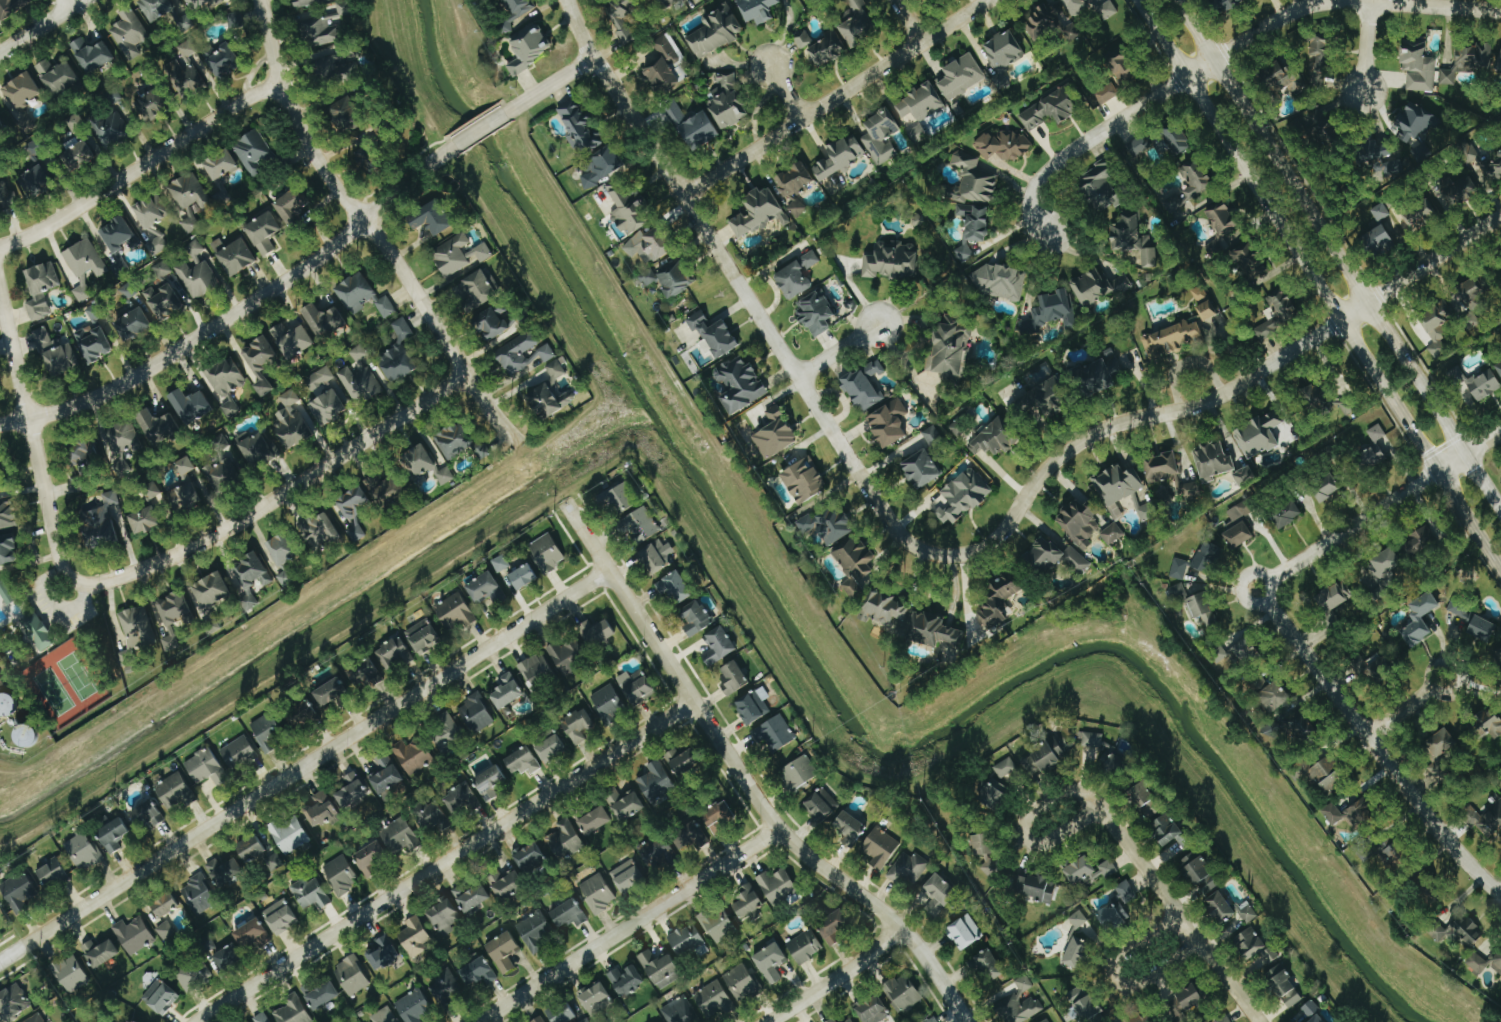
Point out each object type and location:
building: (660, 1)
building: (308, 2)
road: (68, 3)
road: (1351, 3)
building: (200, 5)
building: (1224, 6)
building: (9, 8)
building: (155, 9)
building: (758, 10)
building: (1106, 10)
building: (515, 12)
building: (1053, 17)
building: (235, 20)
building: (622, 20)
road: (908, 22)
building: (185, 23)
building: (857, 23)
road: (40, 26)
road: (1197, 29)
building: (320, 32)
building: (1072, 32)
building: (129, 33)
building: (714, 34)
building: (802, 39)
building: (529, 48)
road: (1367, 48)
building: (188, 49)
building: (828, 49)
building: (1004, 50)
building: (91, 55)
building: (1469, 62)
building: (224, 63)
building: (1418, 66)
building: (1498, 66)
building: (1123, 68)
building: (1303, 70)
building: (336, 71)
building: (57, 77)
building: (960, 77)
building: (186, 80)
road: (548, 86)
building: (22, 91)
road: (781, 91)
building: (1106, 93)
road: (837, 98)
building: (727, 99)
road: (620, 103)
building: (921, 104)
building: (152, 105)
building: (1051, 109)
building: (676, 114)
building: (347, 115)
building: (75, 123)
building: (1414, 123)
building: (1, 128)
road: (479, 129)
building: (580, 129)
building: (111, 130)
building: (699, 132)
building: (916, 132)
road: (1097, 135)
building: (1330, 135)
building: (881, 138)
building: (1177, 141)
building: (1003, 146)
building: (35, 147)
building: (1137, 148)
building: (252, 152)
building: (841, 157)
building: (1384, 159)
building: (367, 161)
building: (1483, 162)
road: (140, 164)
building: (602, 166)
building: (220, 172)
building: (794, 181)
building: (972, 181)
building: (34, 182)
building: (1192, 184)
building: (1099, 185)
building: (1460, 190)
building: (7, 198)
building: (189, 199)
building: (292, 207)
building: (797, 208)
building: (628, 211)
building: (1380, 212)
building: (759, 213)
building: (1420, 217)
building: (431, 219)
building: (917, 220)
building: (152, 222)
building: (975, 223)
building: (1221, 227)
road: (369, 230)
building: (263, 234)
building: (117, 235)
building: (1134, 239)
building: (1378, 239)
building: (651, 245)
building: (195, 250)
building: (964, 254)
building: (458, 255)
building: (234, 256)
building: (890, 260)
building: (1251, 261)
building: (84, 266)
building: (162, 271)
building: (796, 275)
building: (670, 278)
building: (198, 279)
building: (999, 281)
road: (1358, 282)
road: (1320, 285)
building: (1096, 287)
building: (480, 289)
building: (40, 290)
building: (128, 291)
building: (355, 293)
building: (1199, 293)
building: (1466, 295)
building: (164, 302)
building: (386, 307)
road: (241, 310)
building: (1207, 310)
building: (95, 312)
building: (1050, 312)
building: (1278, 312)
building: (816, 313)
building: (324, 321)
building: (133, 325)
building: (494, 325)
building: (1435, 331)
building: (714, 334)
building: (1173, 336)
building: (292, 341)
building: (93, 344)
building: (951, 347)
road: (838, 351)
building: (359, 353)
building: (524, 353)
building: (55, 354)
building: (398, 355)
building: (260, 363)
building: (1498, 366)
building: (555, 370)
building: (1102, 373)
building: (226, 378)
building: (319, 379)
building: (360, 384)
building: (740, 384)
building: (1483, 384)
building: (864, 385)
building: (1046, 394)
building: (1316, 395)
building: (190, 406)
building: (1347, 406)
building: (327, 408)
building: (230, 409)
building: (291, 421)
building: (888, 423)
building: (958, 426)
building: (158, 428)
building: (776, 433)
building: (1259, 434)
building: (932, 435)
building: (123, 438)
building: (995, 439)
building: (454, 440)
road: (31, 442)
building: (257, 448)
building: (86, 450)
building: (1373, 455)
building: (419, 460)
building: (1214, 460)
building: (1162, 465)
building: (921, 468)
building: (227, 471)
building: (445, 476)
building: (1245, 476)
building: (0, 477)
building: (804, 480)
building: (1116, 486)
building: (1326, 487)
building: (386, 488)
building: (1192, 489)
building: (150, 490)
road: (1025, 494)
building: (963, 495)
building: (620, 496)
building: (184, 497)
road: (276, 497)
building: (354, 511)
building: (1147, 511)
building: (1286, 513)
road: (1373, 513)
building: (7, 514)
building: (144, 519)
building: (100, 522)
building: (1079, 522)
building: (827, 524)
building: (1239, 524)
building: (640, 525)
building: (319, 530)
building: (1112, 533)
building: (1422, 539)
building: (7, 548)
building: (281, 549)
building: (547, 553)
building: (1055, 555)
building: (655, 557)
building: (1207, 557)
building: (500, 563)
building: (1385, 563)
building: (854, 564)
building: (1179, 568)
building: (523, 576)
building: (285, 577)
building: (250, 578)
building: (483, 587)
building: (673, 587)
building: (211, 589)
building: (6, 593)
building: (1176, 593)
building: (1335, 595)
building: (999, 600)
building: (884, 606)
building: (1459, 607)
building: (1203, 609)
building: (454, 610)
building: (172, 616)
building: (695, 617)
building: (1420, 619)
building: (1483, 627)
building: (932, 630)
building: (134, 631)
building: (37, 632)
building: (596, 632)
building: (422, 635)
building: (718, 645)
park: (57, 649)
building: (1245, 650)
building: (393, 653)
building: (566, 654)
building: (1221, 655)
building: (1375, 667)
building: (536, 670)
building: (363, 673)
building: (733, 678)
building: (1, 683)
building: (636, 686)
building: (507, 691)
building: (330, 692)
building: (1275, 696)
building: (608, 703)
road: (1410, 703)
building: (753, 706)
building: (304, 713)
building: (476, 713)
building: (1489, 725)
building: (577, 726)
building: (1301, 729)
building: (268, 732)
building: (445, 732)
building: (775, 733)
building: (1092, 740)
building: (550, 748)
building: (1440, 749)
building: (238, 753)
building: (413, 756)
road: (1379, 757)
building: (1043, 758)
building: (522, 761)
building: (682, 761)
building: (1114, 763)
road: (304, 766)
building: (205, 767)
building: (1005, 767)
building: (799, 772)
building: (1329, 773)
building: (385, 775)
road: (744, 780)
building: (489, 782)
building: (657, 783)
building: (175, 791)
building: (351, 791)
building: (994, 794)
building: (460, 799)
building: (1146, 800)
building: (623, 804)
building: (822, 805)
building: (322, 810)
building: (1332, 813)
building: (1362, 813)
building: (146, 815)
building: (719, 817)
building: (432, 818)
building: (594, 820)
building: (1486, 820)
building: (850, 827)
road: (1023, 828)
building: (1169, 831)
building: (113, 834)
building: (289, 834)
building: (399, 836)
building: (689, 836)
building: (565, 840)
building: (251, 848)
building: (880, 848)
building: (81, 850)
building: (984, 852)
building: (658, 853)
building: (1393, 856)
building: (371, 857)
building: (529, 858)
building: (273, 862)
road: (445, 863)
building: (909, 869)
building: (1089, 869)
building: (224, 871)
building: (51, 873)
building: (1199, 873)
building: (341, 874)
building: (627, 876)
building: (506, 884)
building: (777, 886)
building: (1033, 888)
building: (18, 892)
building: (311, 892)
building: (1126, 892)
building: (597, 893)
building: (198, 894)
building: (938, 894)
building: (471, 897)
building: (748, 902)
building: (164, 904)
building: (1220, 907)
building: (1247, 911)
building: (567, 914)
building: (444, 915)
building: (1114, 915)
road: (1177, 915)
building: (280, 916)
building: (1078, 919)
road: (628, 925)
building: (834, 927)
building: (165, 931)
building: (534, 931)
building: (965, 932)
building: (1459, 932)
building: (250, 933)
building: (133, 935)
building: (415, 936)
building: (686, 940)
building: (1250, 942)
building: (805, 947)
building: (1078, 947)
building: (503, 952)
building: (99, 953)
building: (383, 953)
building: (1267, 956)
building: (227, 957)
building: (770, 962)
building: (1477, 963)
building: (1497, 963)
building: (988, 964)
building: (660, 969)
building: (478, 972)
building: (70, 974)
building: (194, 975)
building: (351, 976)
road: (839, 978)
road: (1114, 978)
building: (626, 980)
building: (741, 983)
building: (445, 986)
building: (1285, 986)
building: (903, 992)
building: (320, 994)
building: (160, 997)
building: (596, 998)
building: (1189, 998)
building: (713, 1000)
building: (13, 1002)
building: (1019, 1003)
building: (1083, 1004)
building: (414, 1006)
building: (1311, 1008)
building: (872, 1009)
building: (679, 1011)
building: (292, 1012)
building: (562, 1013)
building: (383, 1016)
building: (261, 1018)
building: (1141, 1018)
building: (1223, 1018)
building: (36, 1019)
building: (1318, 1019)
building: (538, 1020)
building: (584, 1020)
building: (832, 1020)
building: (849, 1020)
building: (933, 1020)
building: (1046, 1020)

